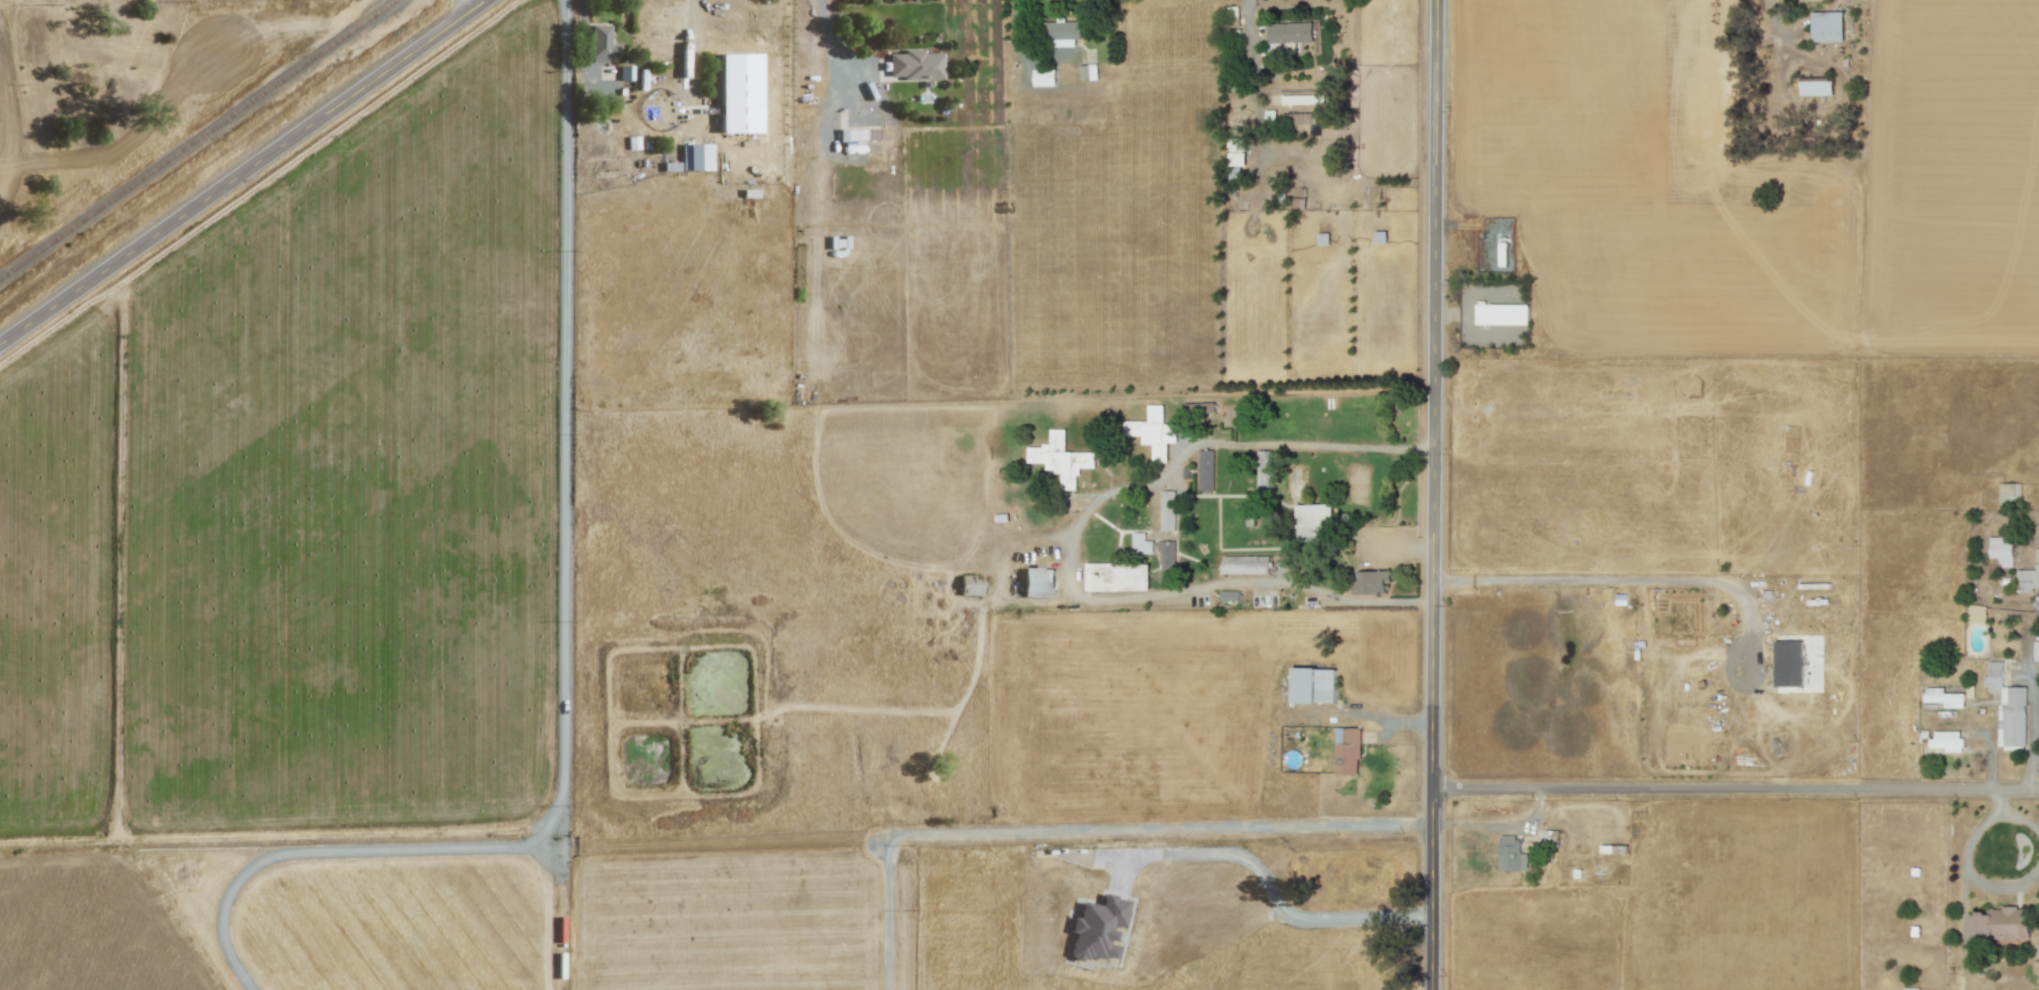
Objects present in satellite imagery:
building: (1827, 26)
building: (716, 27)
building: (1290, 32)
road: (582, 39)
road: (829, 41)
building: (599, 45)
road: (1023, 45)
building: (915, 65)
building: (625, 72)
building: (1088, 72)
building: (1044, 77)
road: (1252, 77)
building: (1816, 86)
building: (739, 92)
building: (1301, 99)
building: (1297, 118)
building: (854, 135)
railway: (197, 139)
building: (632, 142)
building: (1237, 151)
building: (696, 157)
building: (670, 166)
road: (243, 172)
building: (1503, 314)
building: (1200, 408)
building: (1155, 432)
building: (1061, 458)
building: (1205, 470)
building: (1265, 470)
building: (2010, 494)
road: (1436, 495)
building: (1167, 510)
building: (1314, 522)
building: (1141, 543)
road: (1074, 545)
building: (2001, 550)
building: (1167, 560)
building: (1246, 564)
building: (1117, 576)
building: (2028, 577)
road: (1603, 578)
building: (1372, 581)
building: (1038, 582)
building: (969, 585)
building: (1229, 595)
building: (2037, 604)
building: (1976, 613)
building: (2037, 650)
building: (1789, 663)
building: (1314, 685)
building: (1944, 697)
building: (2008, 707)
building: (1947, 740)
building: (1347, 750)
road: (1736, 789)
road: (1085, 828)
building: (1511, 853)
road: (1269, 891)
building: (2001, 924)
building: (1097, 928)

